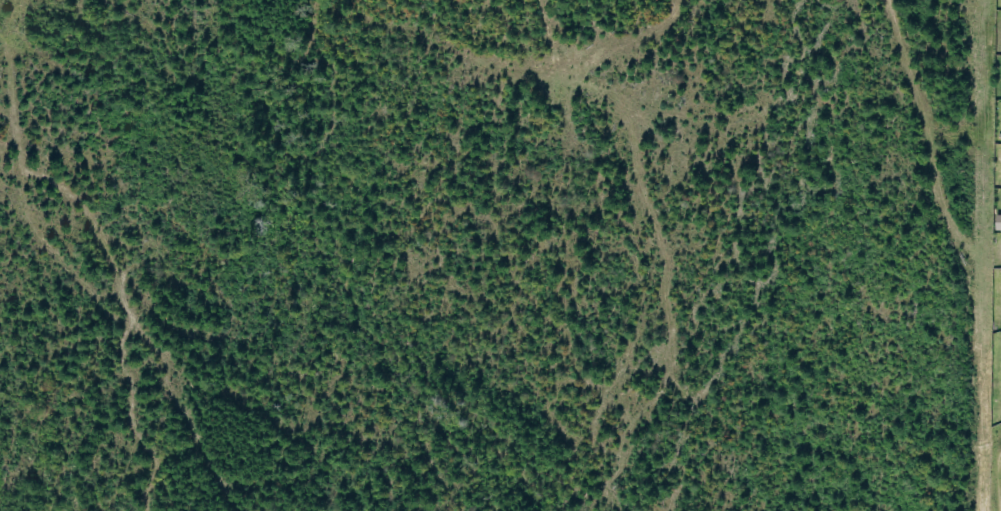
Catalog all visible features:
road: (468, 68)
road: (552, 71)
building: (997, 222)
road: (954, 254)

